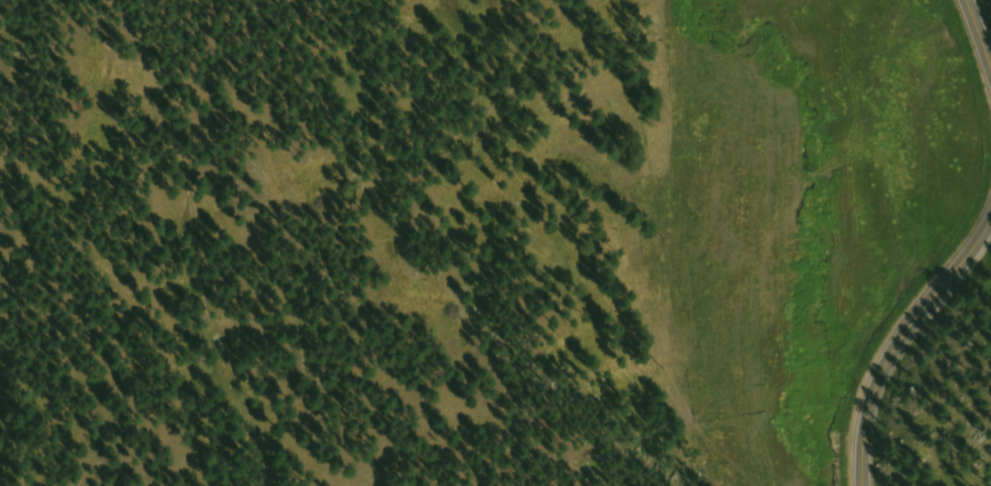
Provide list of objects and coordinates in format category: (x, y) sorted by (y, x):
road: (979, 30)
road: (900, 351)

